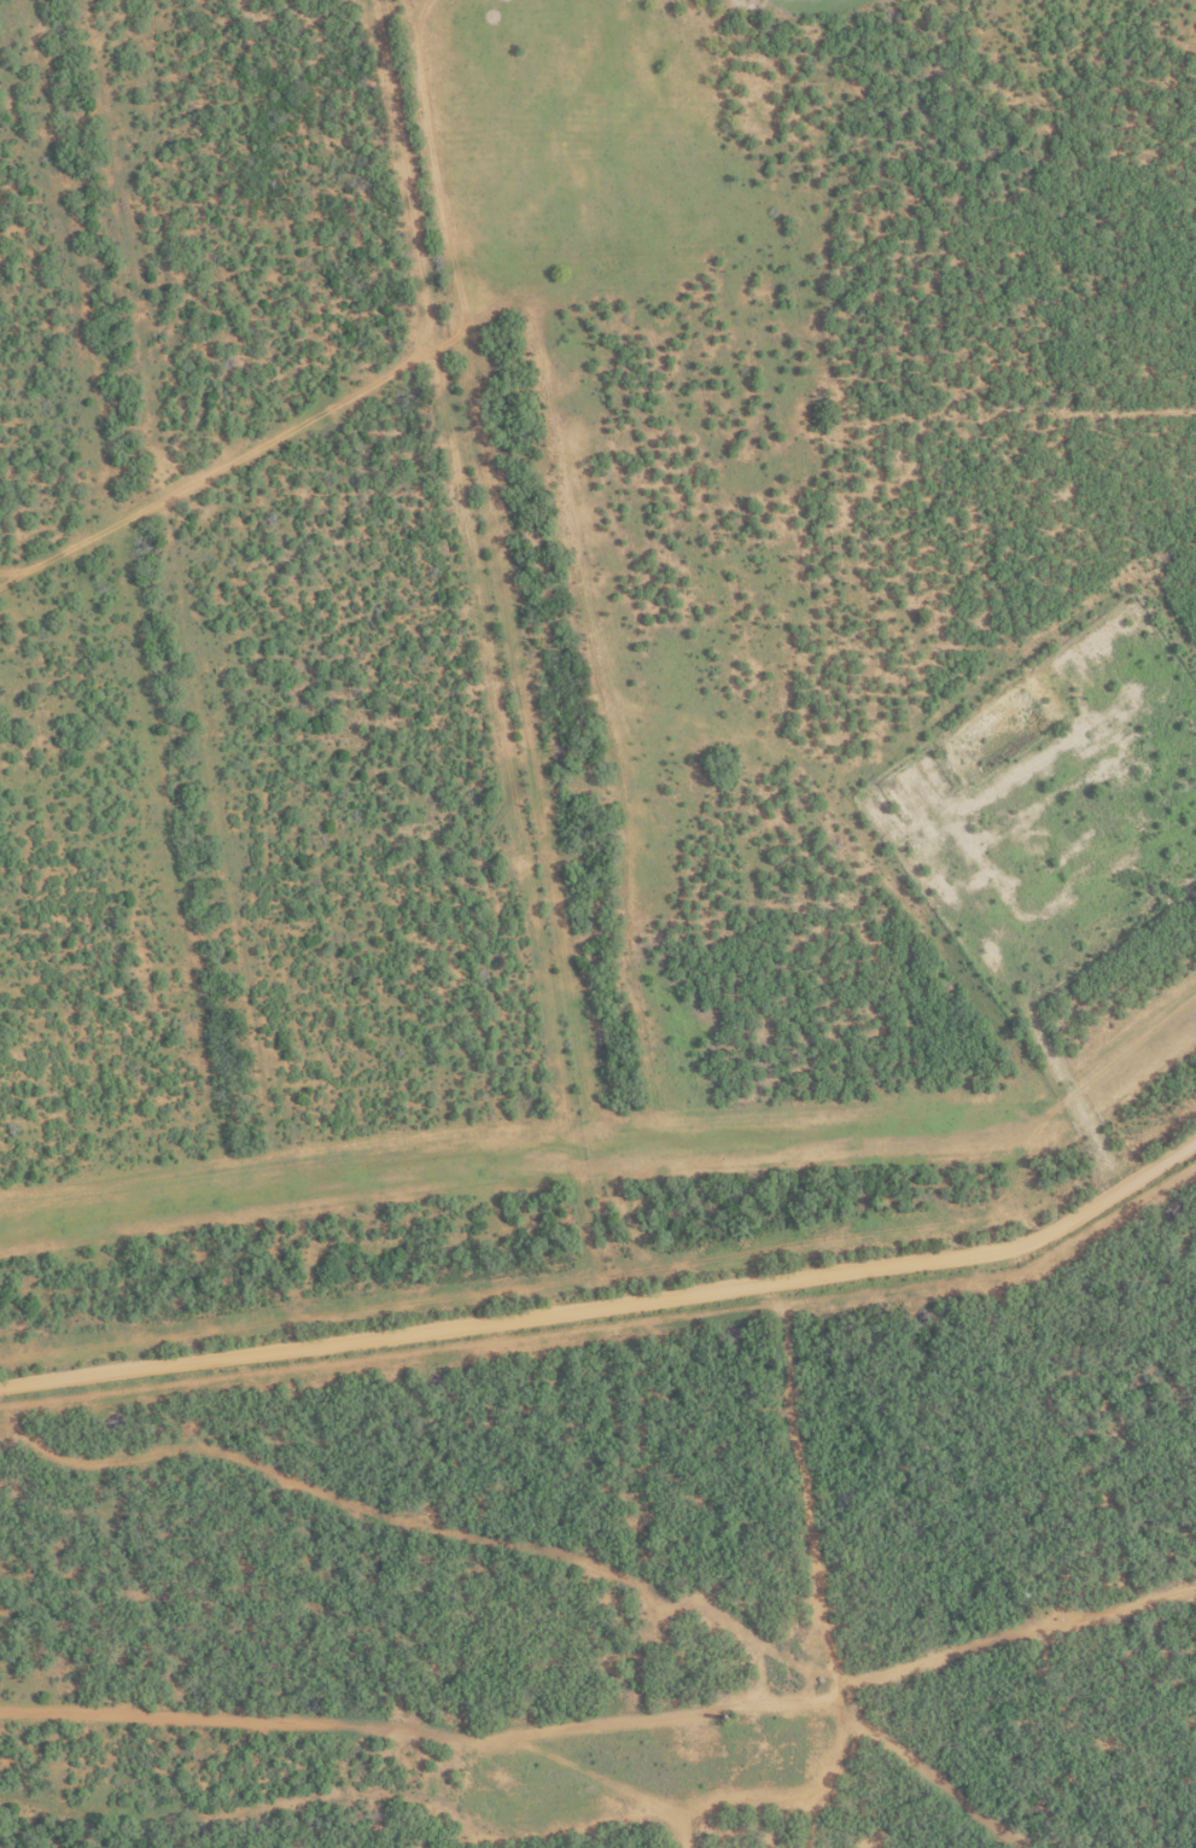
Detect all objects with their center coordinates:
road: (611, 1305)

